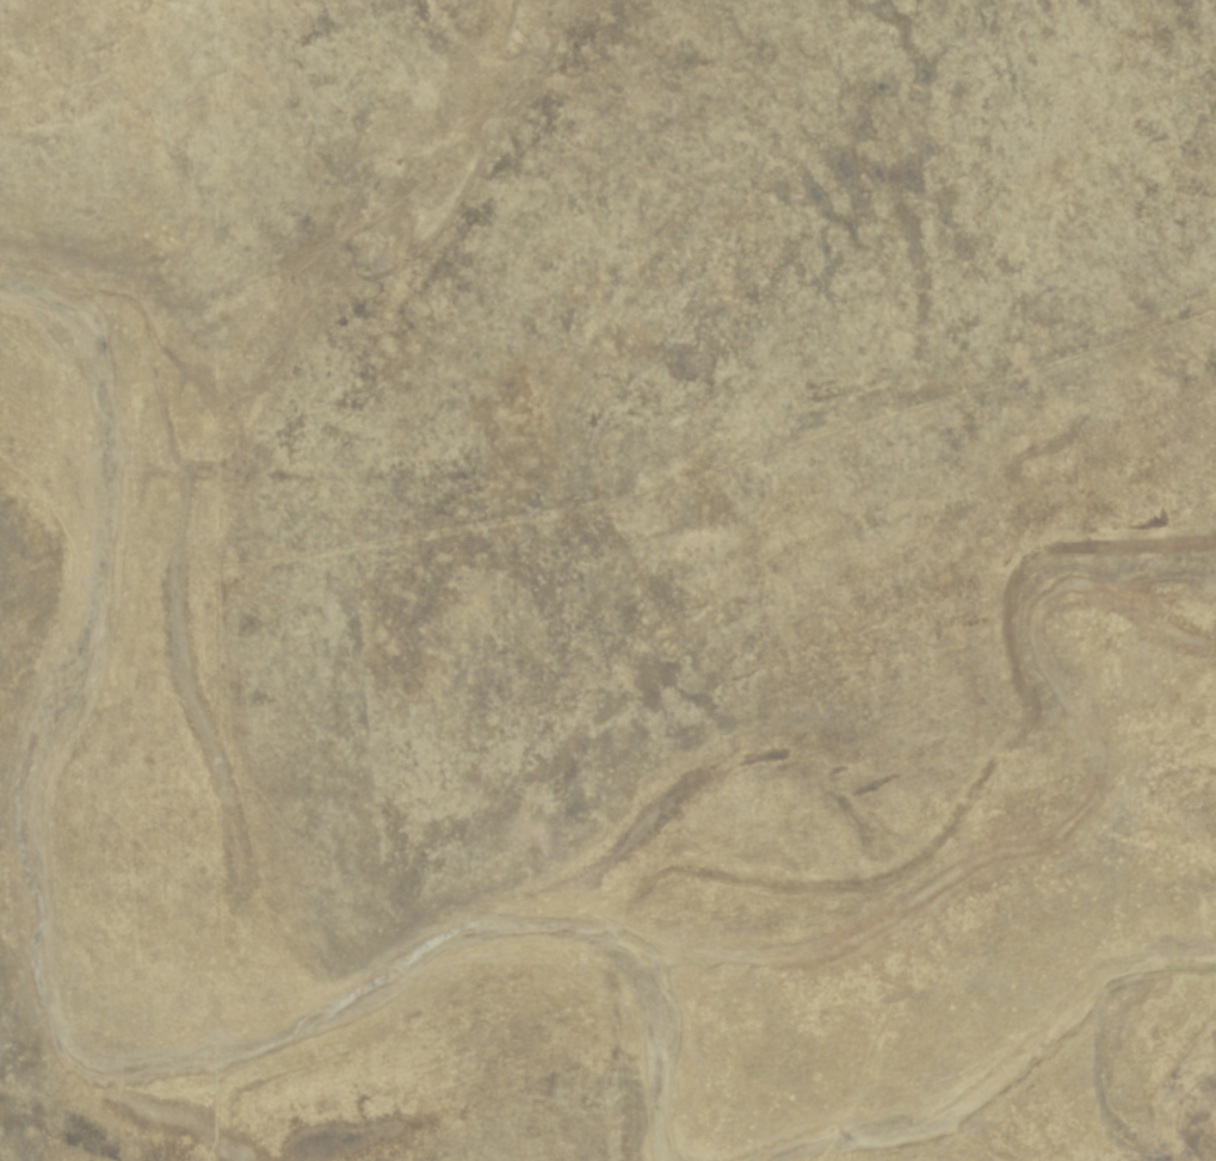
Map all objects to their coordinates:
airport: (607, 580)

